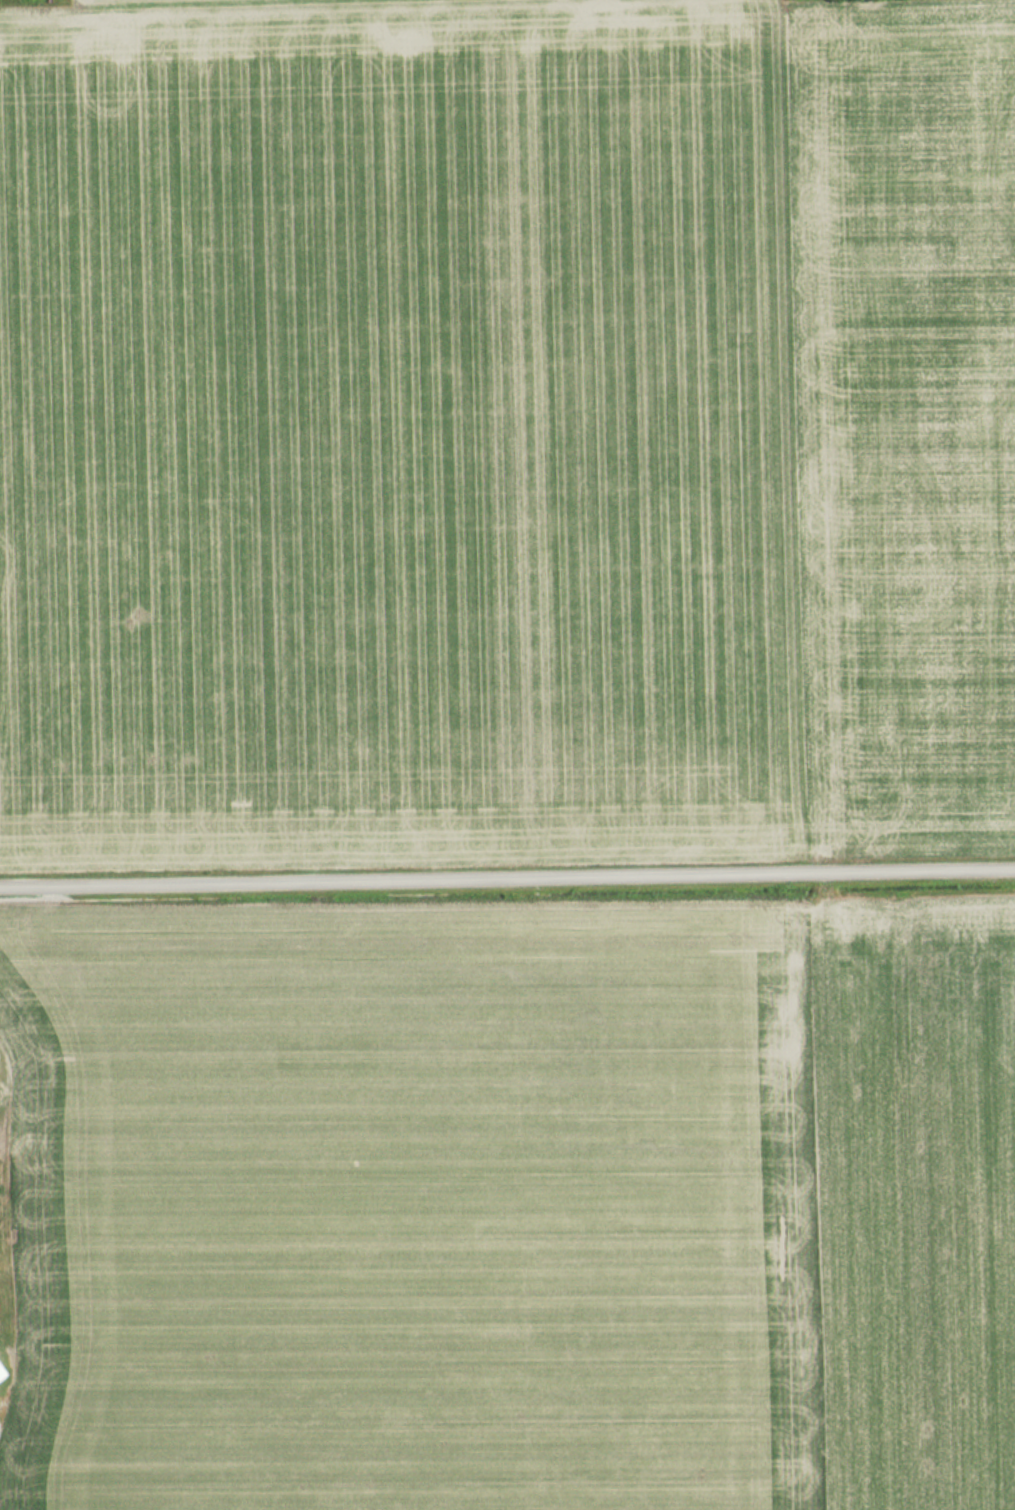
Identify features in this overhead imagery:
crop: (397, 6)
crop: (506, 434)
road: (507, 879)
crop: (517, 1217)

